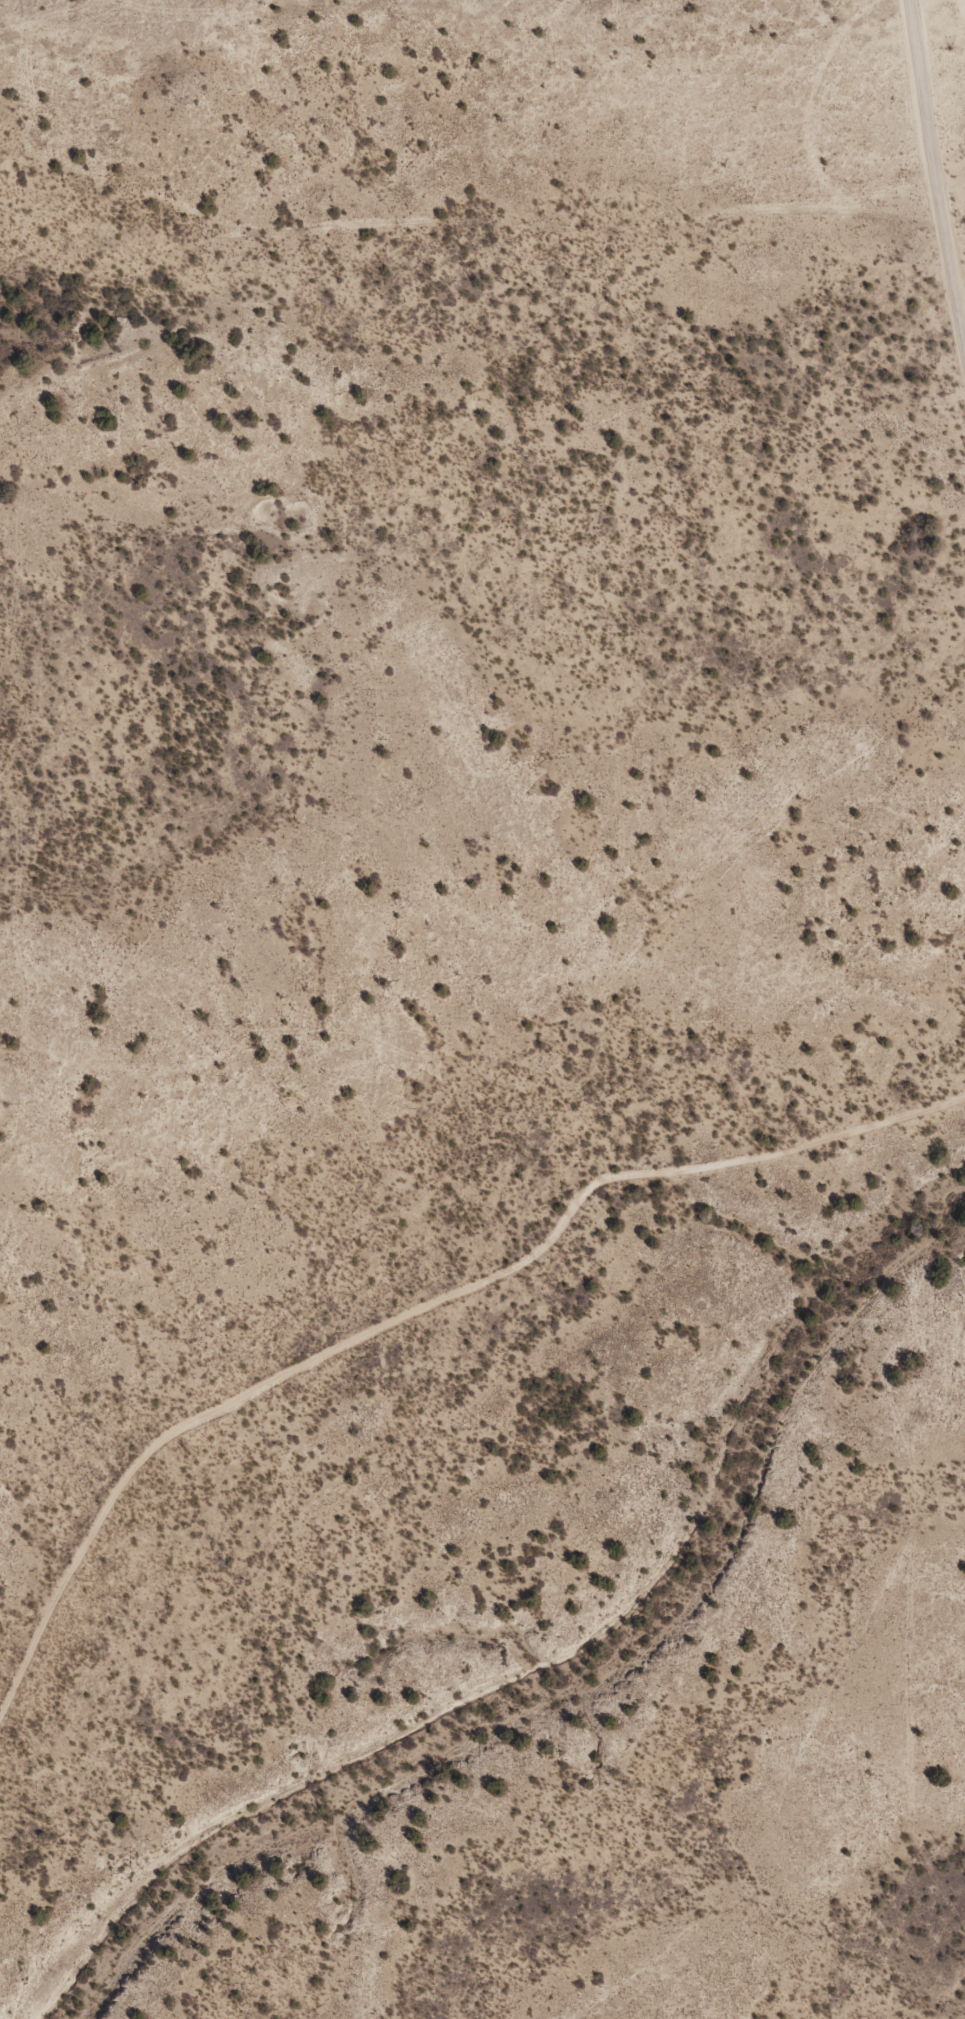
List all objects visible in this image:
road: (441, 1306)

